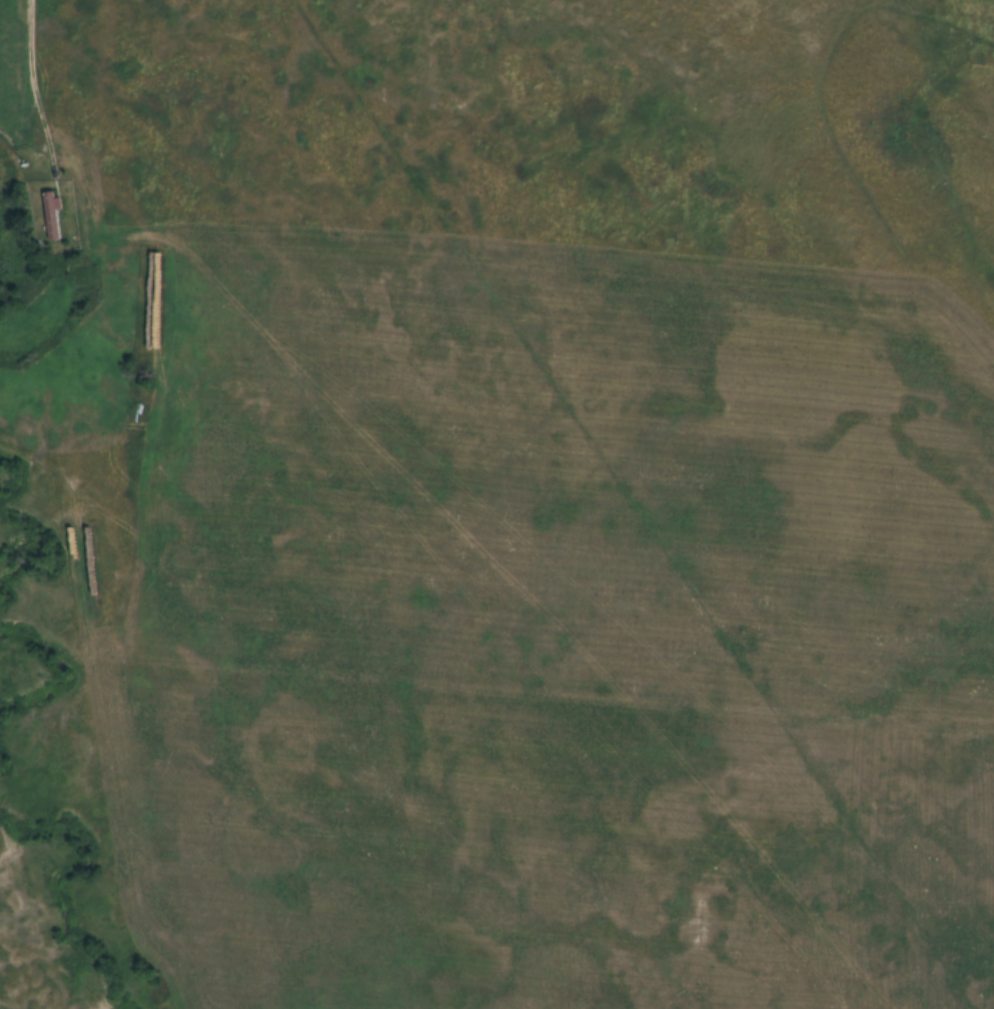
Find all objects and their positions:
building: (48, 215)

